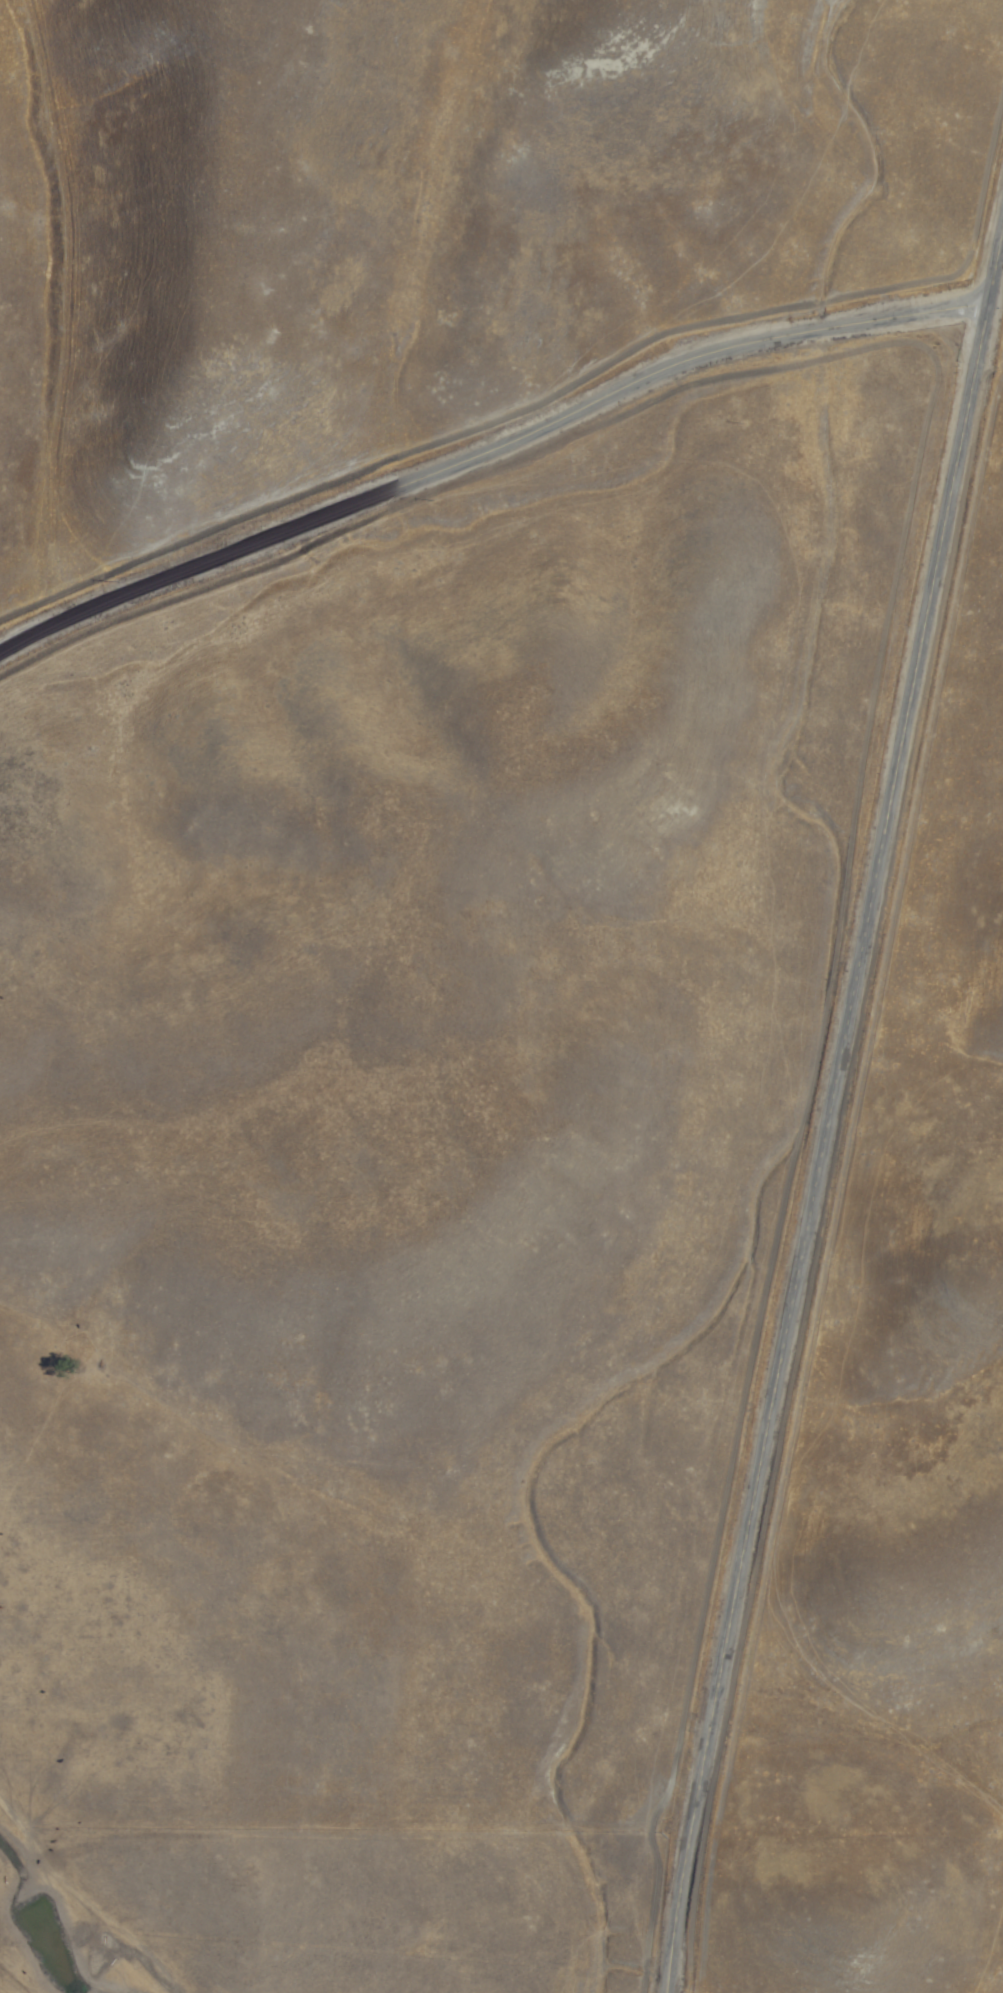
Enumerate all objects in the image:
road: (992, 266)
road: (484, 454)
road: (821, 1155)
road: (63, 1894)

